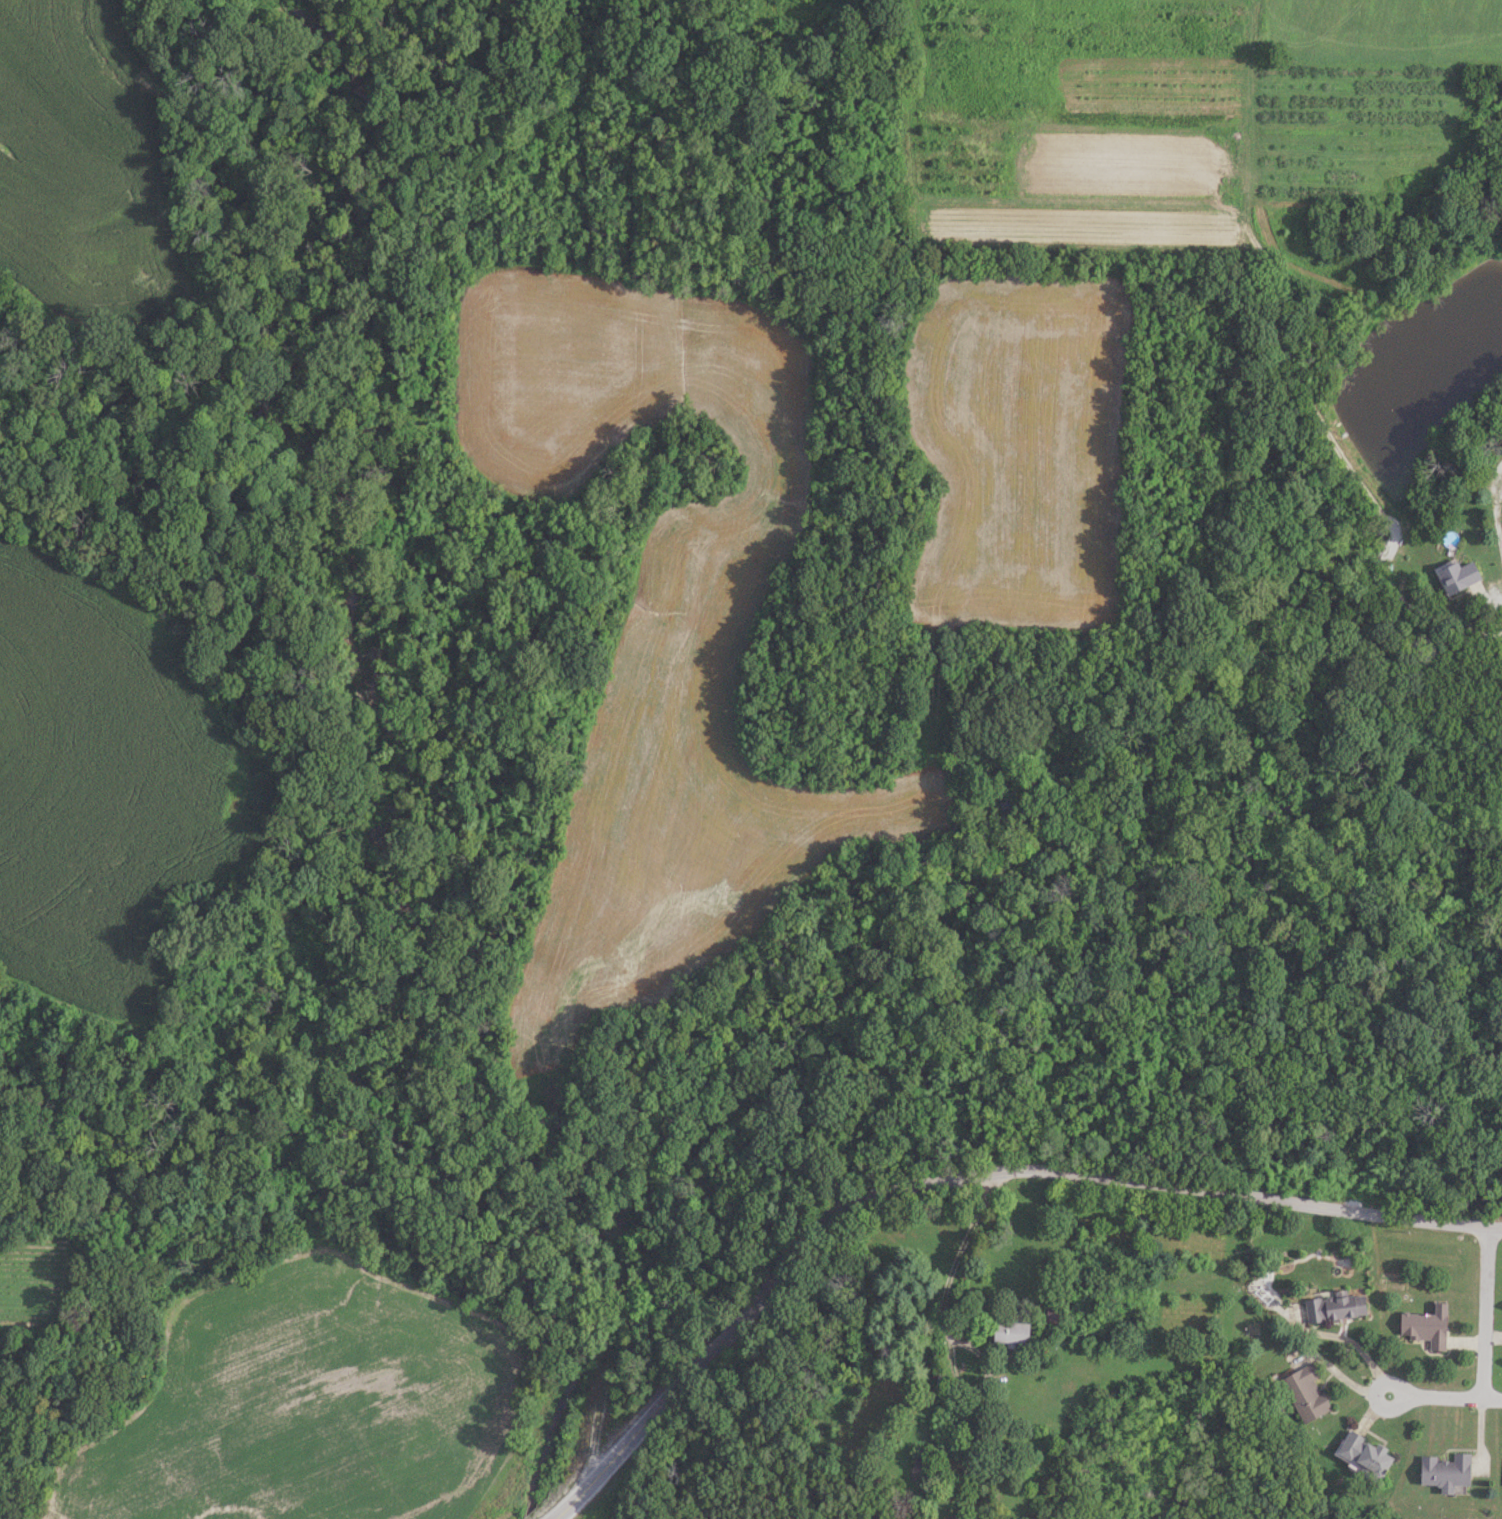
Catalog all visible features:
road: (1491, 529)
building: (1454, 576)
road: (1500, 601)
road: (949, 1180)
road: (1495, 1227)
road: (950, 1269)
building: (1333, 1307)
road: (1483, 1313)
building: (1423, 1327)
building: (1007, 1332)
building: (1302, 1393)
road: (1376, 1393)
road: (1451, 1398)
building: (1360, 1455)
building: (910, 1467)
building: (1439, 1472)
building: (1501, 1477)

